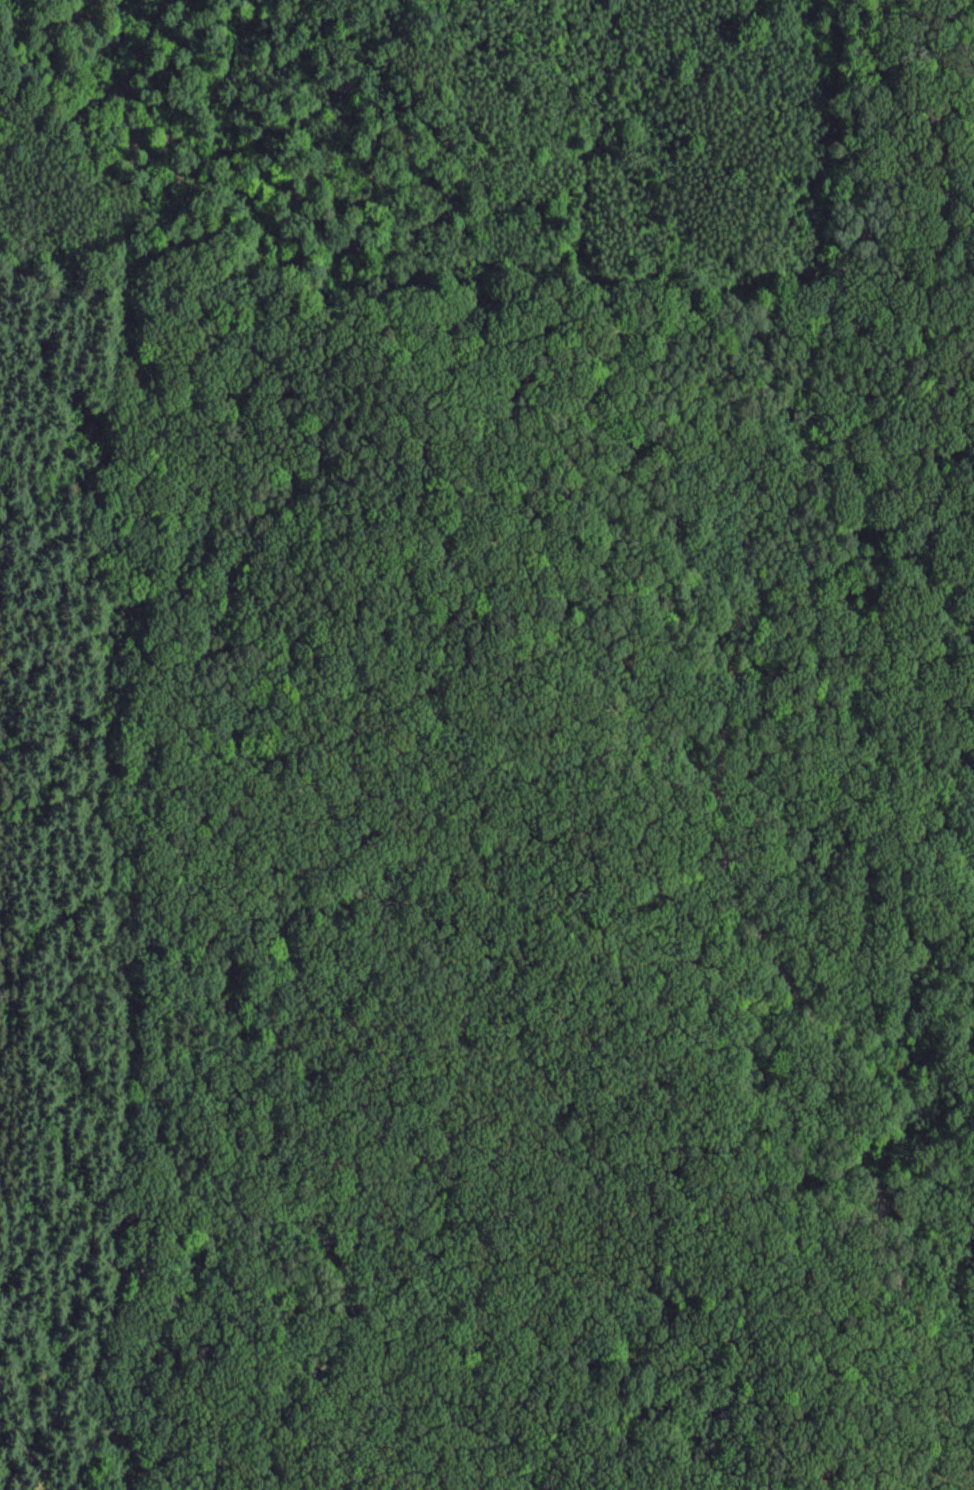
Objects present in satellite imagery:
road: (755, 548)
road: (120, 835)
road: (774, 847)
road: (185, 1193)
road: (897, 1257)

